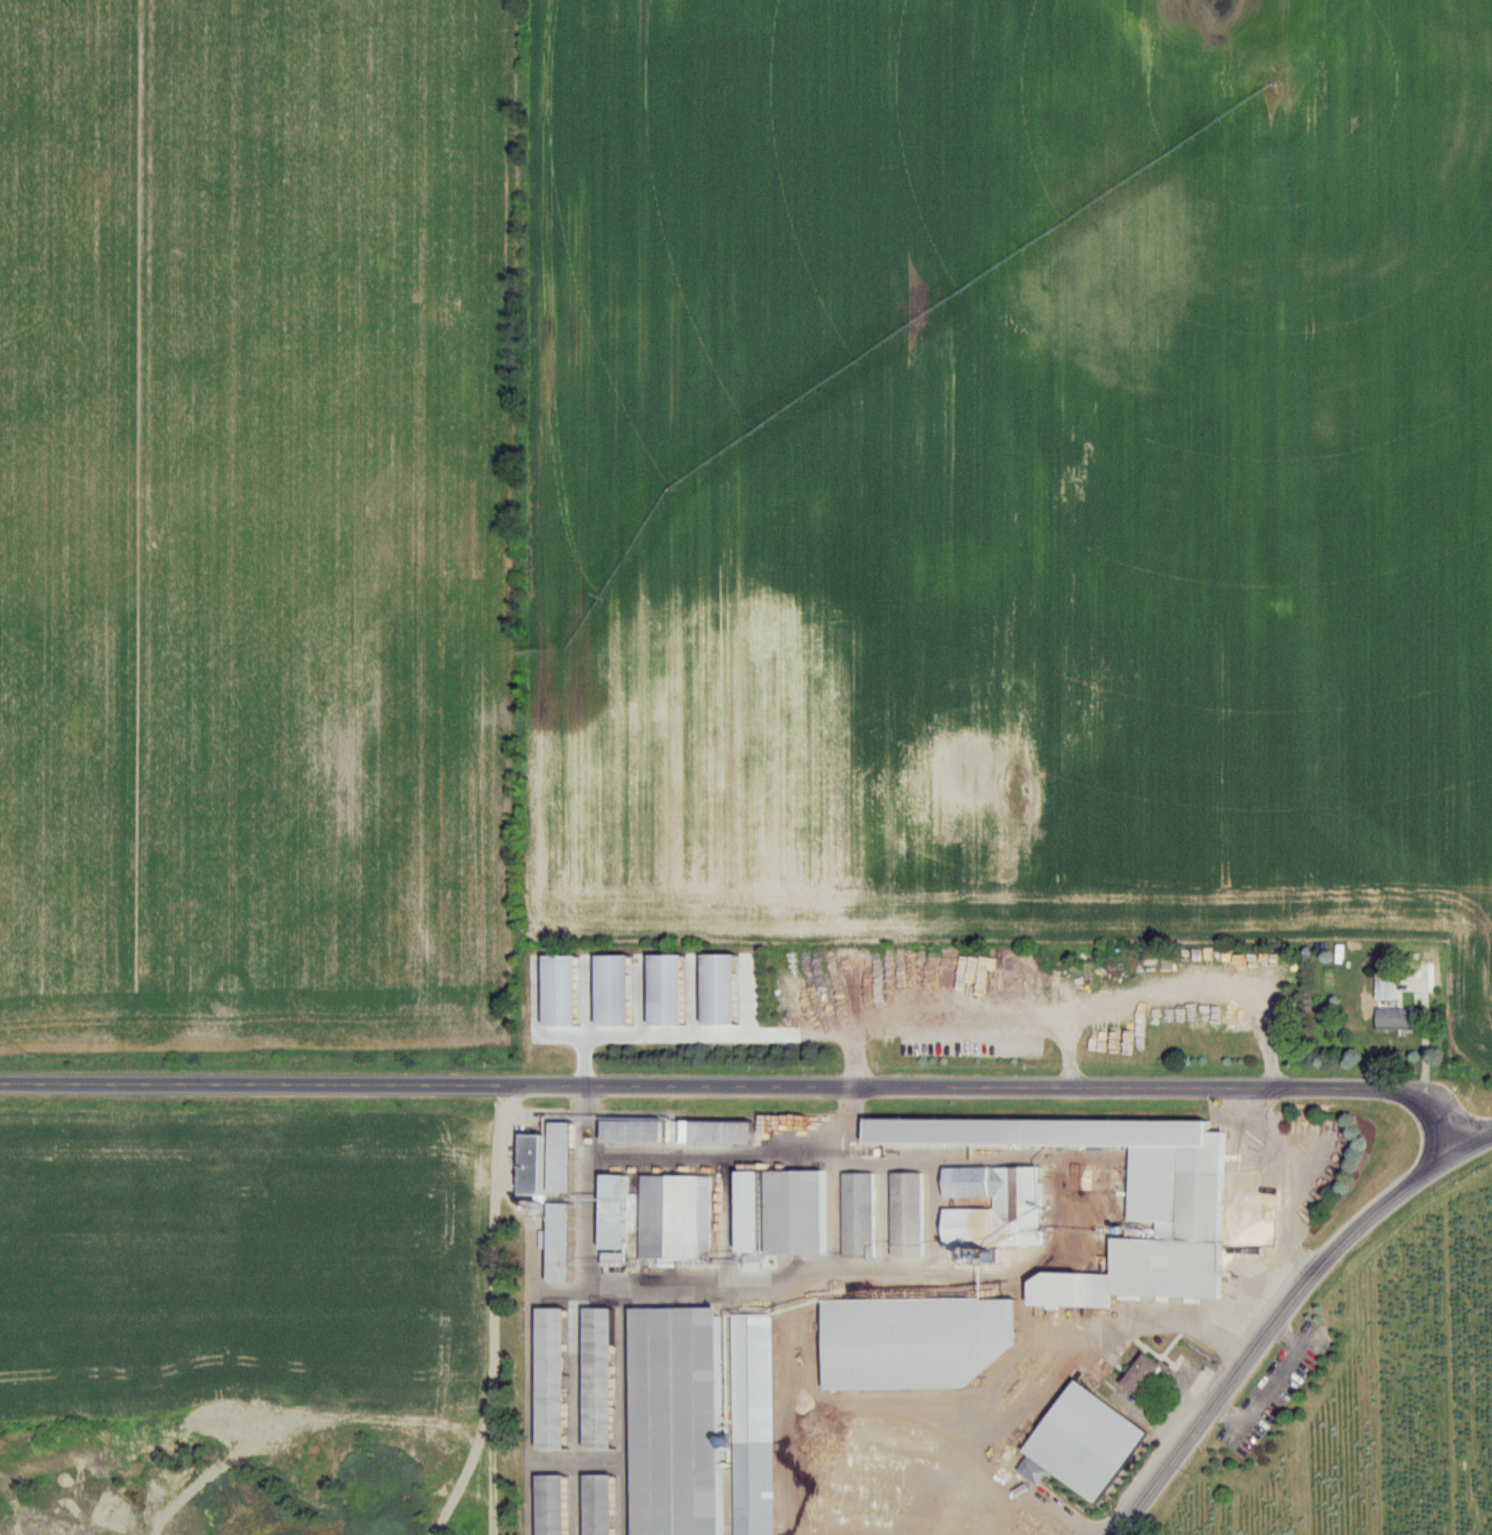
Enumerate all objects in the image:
building: (1385, 986)
road: (1068, 1007)
building: (1395, 1019)
road: (1424, 1039)
road: (1066, 1045)
road: (743, 1083)
building: (634, 1131)
building: (712, 1132)
road: (1476, 1139)
building: (561, 1157)
road: (762, 1158)
building: (532, 1165)
road: (1292, 1177)
building: (1176, 1184)
building: (994, 1205)
building: (615, 1212)
building: (795, 1213)
building: (908, 1214)
building: (859, 1215)
building: (676, 1217)
building: (560, 1243)
building: (614, 1259)
road: (936, 1272)
road: (1255, 1284)
road: (1275, 1326)
building: (912, 1342)
road: (1037, 1375)
building: (1143, 1375)
building: (552, 1379)
building: (599, 1379)
building: (676, 1422)
building: (753, 1425)
building: (1086, 1442)
building: (552, 1505)
building: (600, 1505)
building: (1010, 1507)

